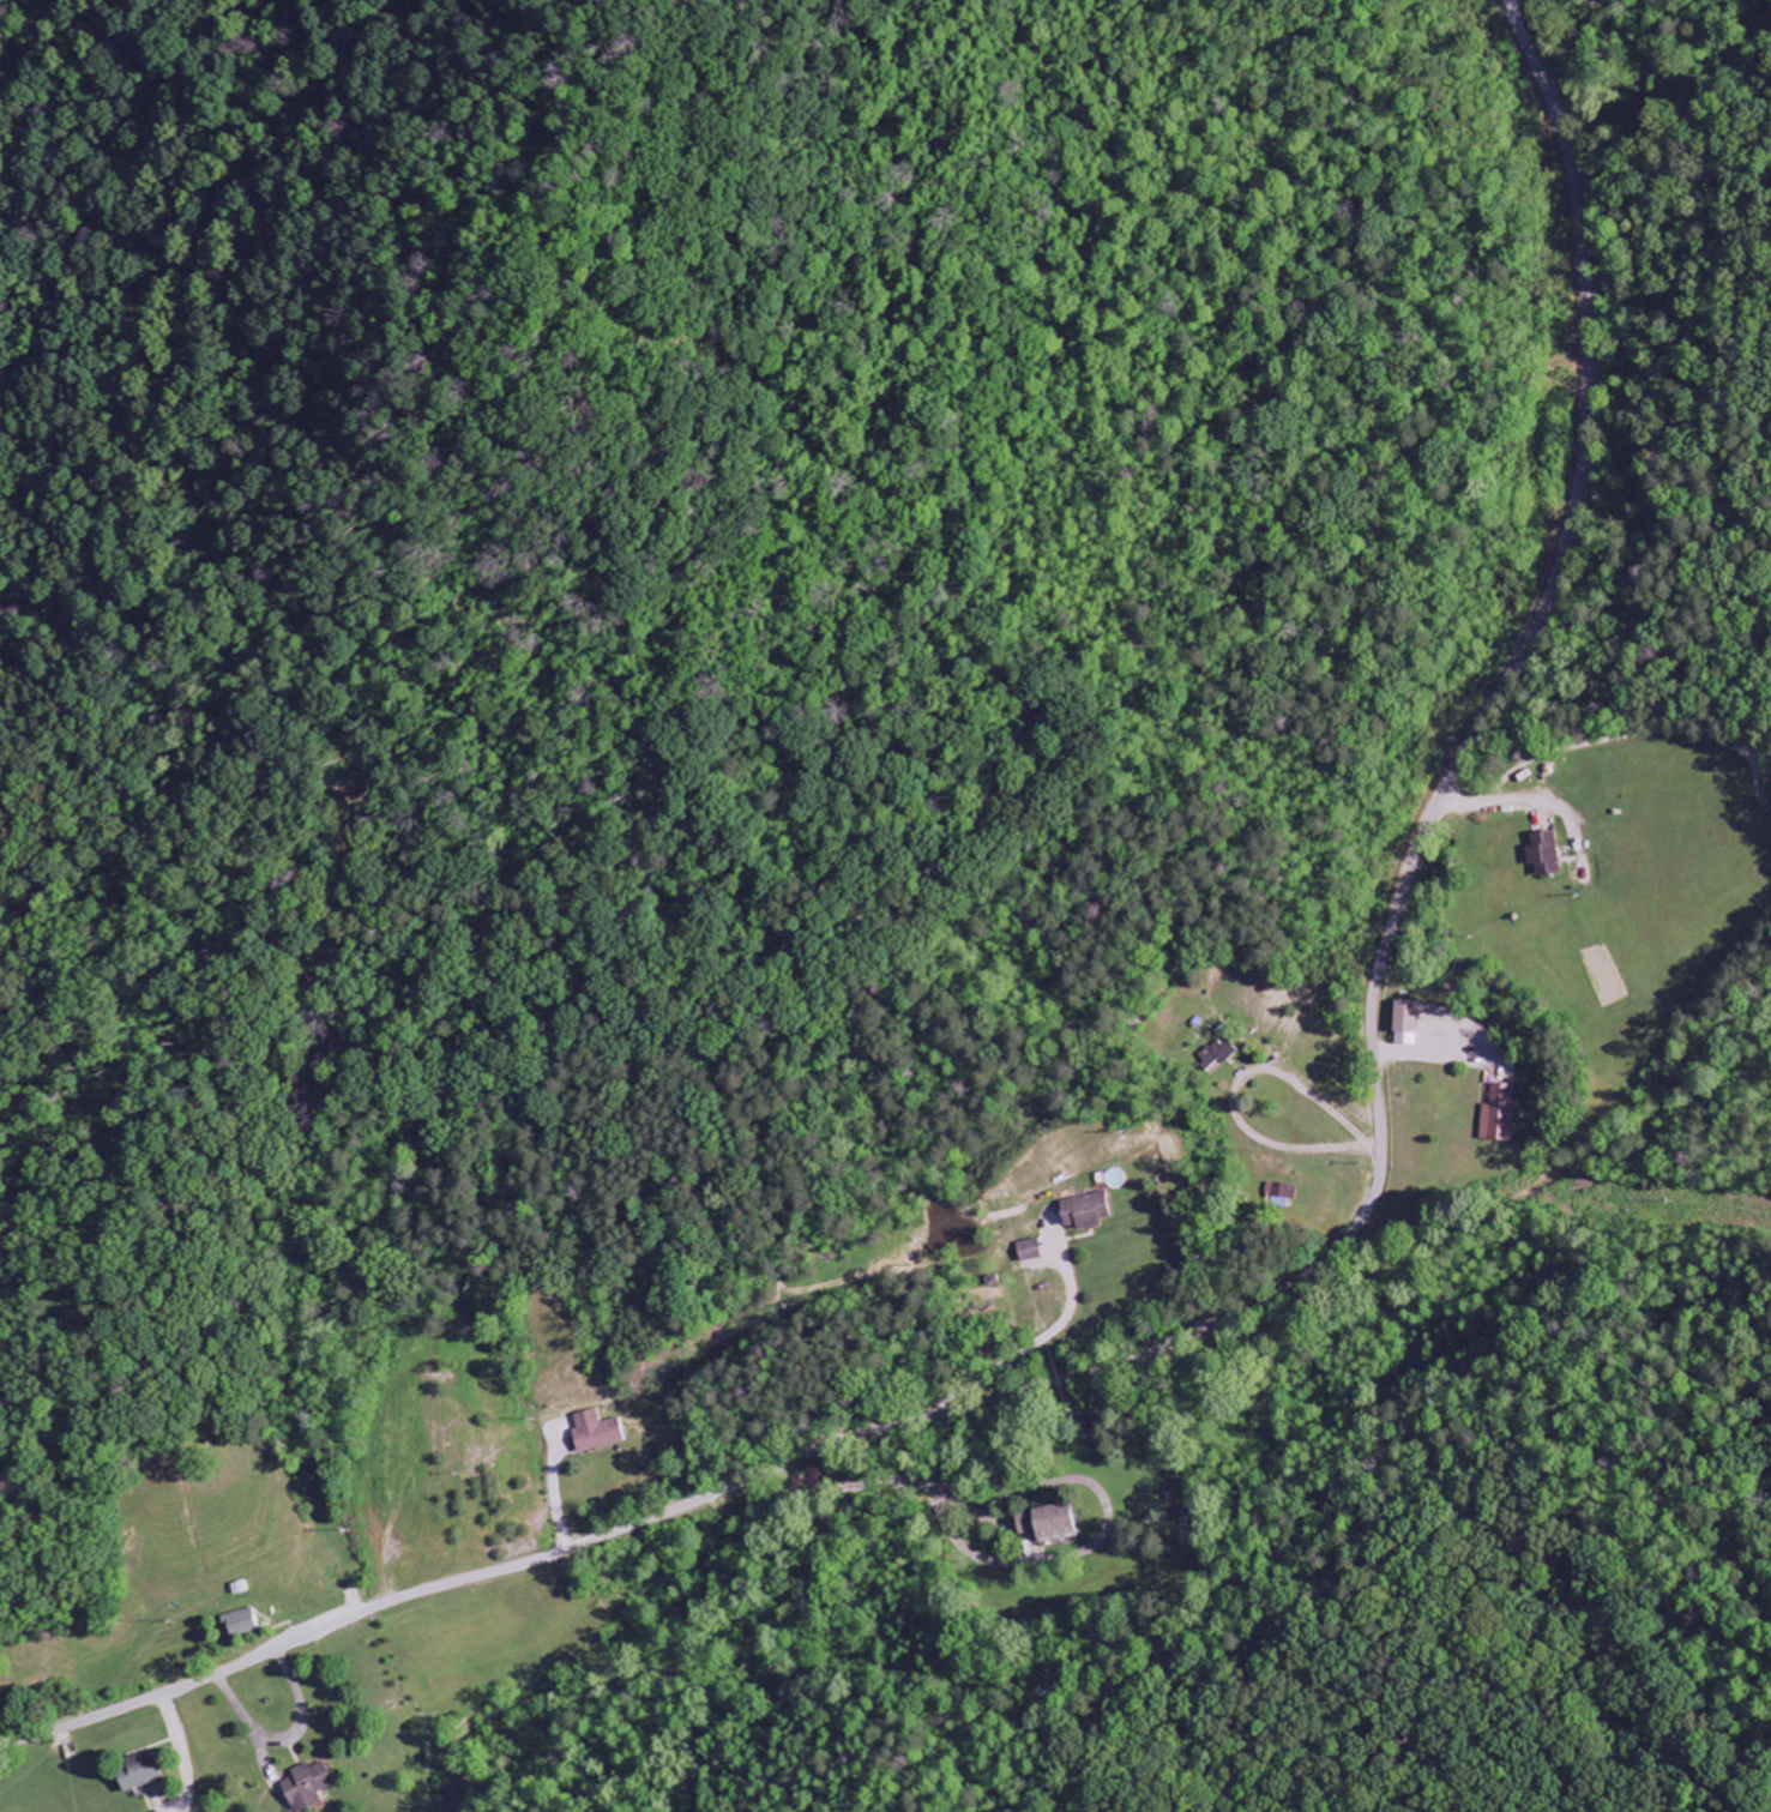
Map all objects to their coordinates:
road: (1634, 735)
park: (1767, 781)
road: (1465, 802)
building: (1546, 855)
building: (1405, 1023)
building: (1219, 1057)
building: (1499, 1114)
building: (1084, 1211)
building: (1029, 1251)
road: (1289, 1282)
building: (595, 1433)
building: (1046, 1522)
building: (241, 1624)
building: (135, 1774)
building: (307, 1787)

